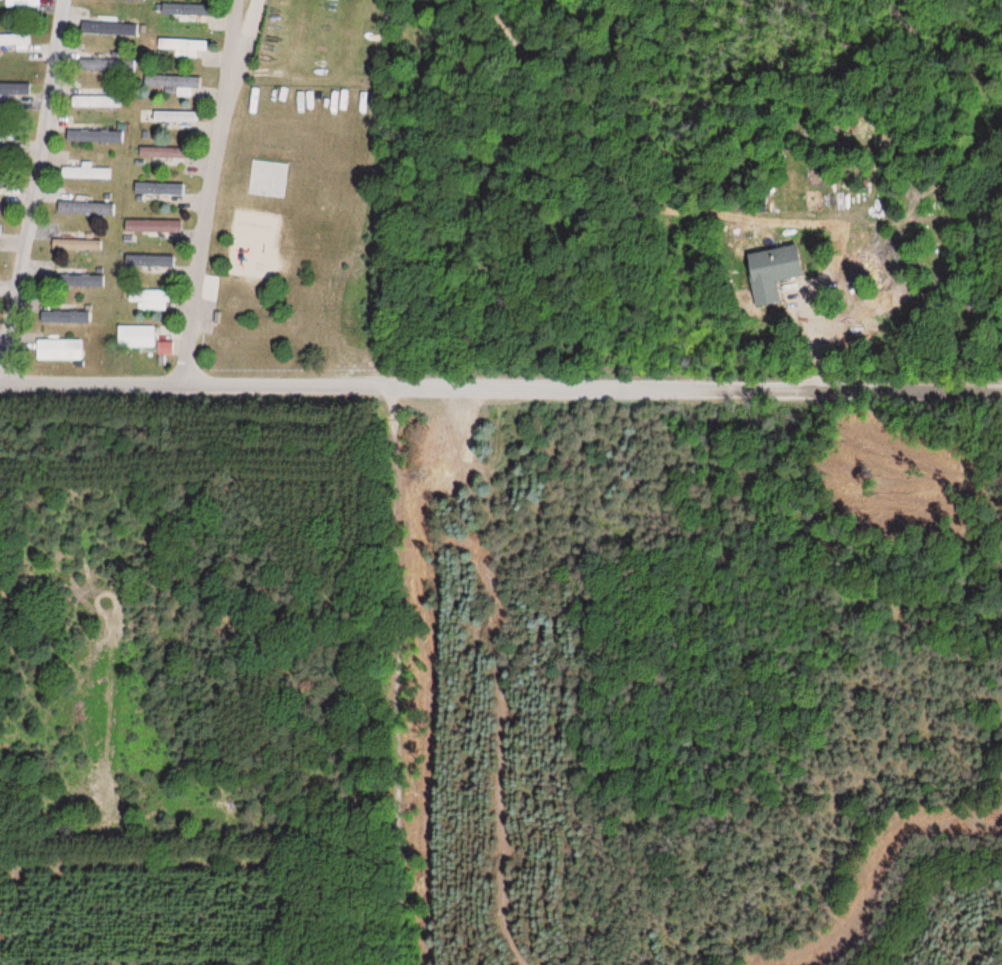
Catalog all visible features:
building: (21, 2)
building: (106, 29)
building: (15, 39)
building: (184, 46)
building: (174, 82)
building: (12, 91)
building: (95, 101)
building: (172, 116)
building: (6, 135)
building: (160, 152)
building: (84, 172)
road: (36, 174)
road: (206, 189)
building: (152, 227)
building: (78, 245)
building: (769, 272)
building: (149, 299)
building: (53, 312)
building: (136, 336)
building: (163, 348)
building: (59, 349)
road: (500, 381)

